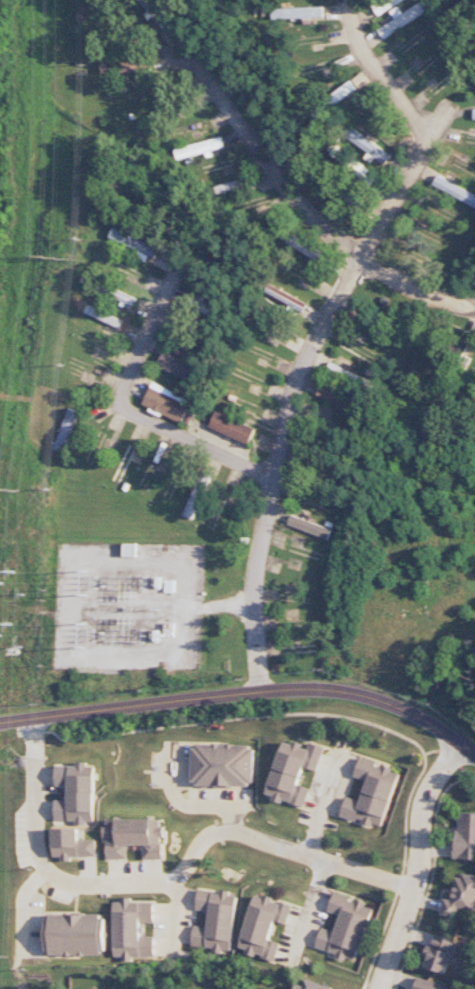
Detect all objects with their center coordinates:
building: (384, 5)
building: (297, 13)
building: (160, 14)
building: (400, 19)
building: (135, 67)
building: (108, 68)
building: (359, 80)
building: (340, 93)
building: (367, 145)
building: (198, 148)
building: (354, 166)
building: (454, 191)
building: (343, 193)
road: (305, 211)
building: (133, 244)
building: (305, 248)
building: (284, 297)
building: (198, 304)
building: (102, 316)
road: (324, 321)
building: (176, 366)
building: (350, 377)
building: (336, 398)
building: (165, 402)
road: (124, 408)
building: (231, 428)
building: (65, 430)
power tower: (11, 487)
building: (195, 495)
building: (308, 527)
power tower: (13, 572)
power tower: (4, 583)
power tower: (24, 595)
power substation: (128, 605)
power tower: (13, 624)
power tower: (0, 635)
power tower: (24, 647)
road: (244, 693)
building: (224, 765)
building: (294, 772)
building: (76, 793)
building: (372, 794)
road: (191, 805)
road: (238, 805)
road: (323, 806)
building: (465, 836)
building: (134, 837)
road: (257, 841)
building: (72, 844)
road: (39, 863)
road: (417, 864)
building: (460, 897)
road: (22, 908)
road: (308, 910)
building: (215, 921)
building: (264, 926)
building: (346, 928)
building: (131, 929)
building: (74, 935)
building: (439, 953)
power tower: (2, 955)
building: (312, 985)
building: (427, 985)

